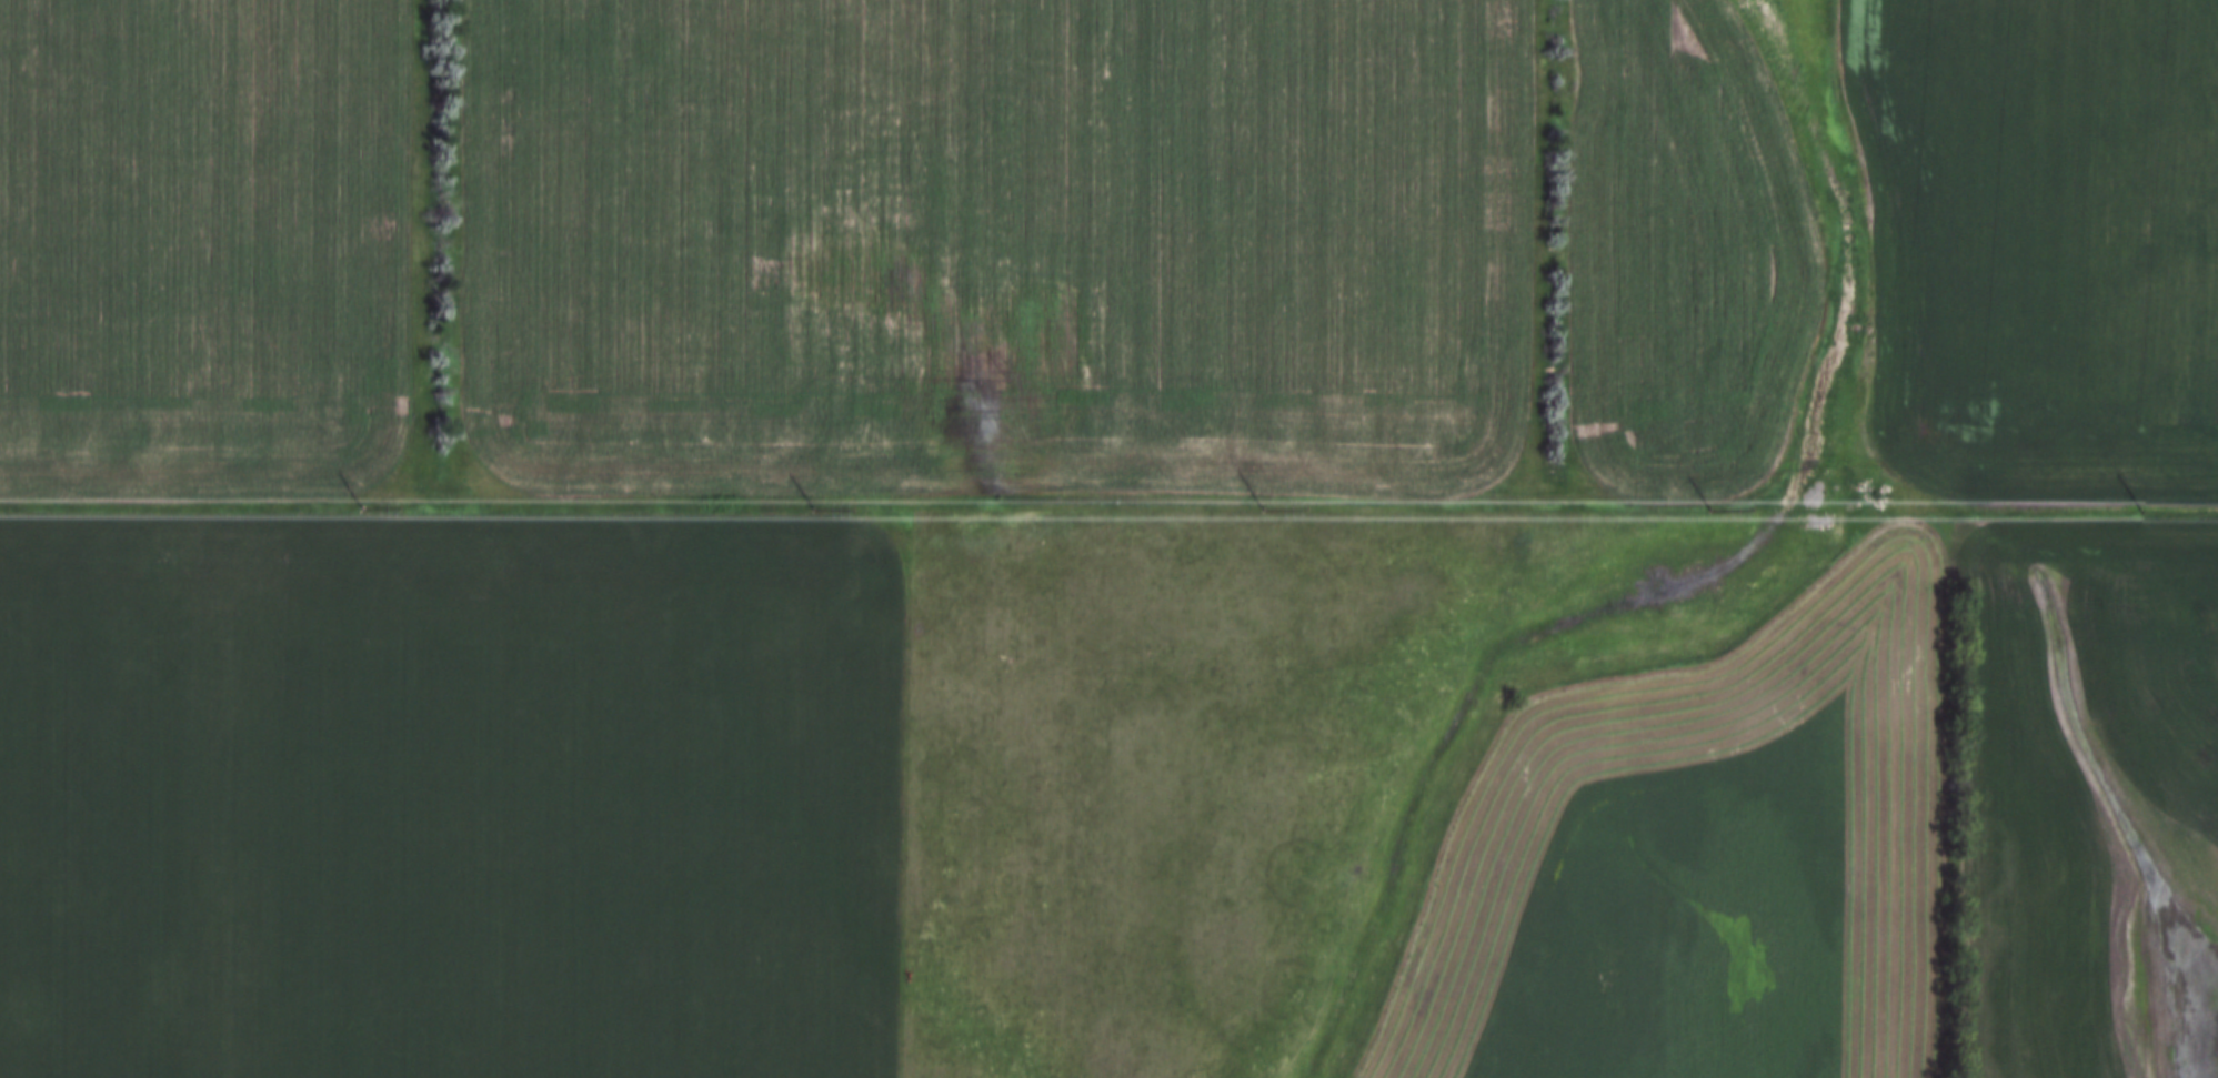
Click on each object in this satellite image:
building: (485, 858)
building: (436, 1064)

